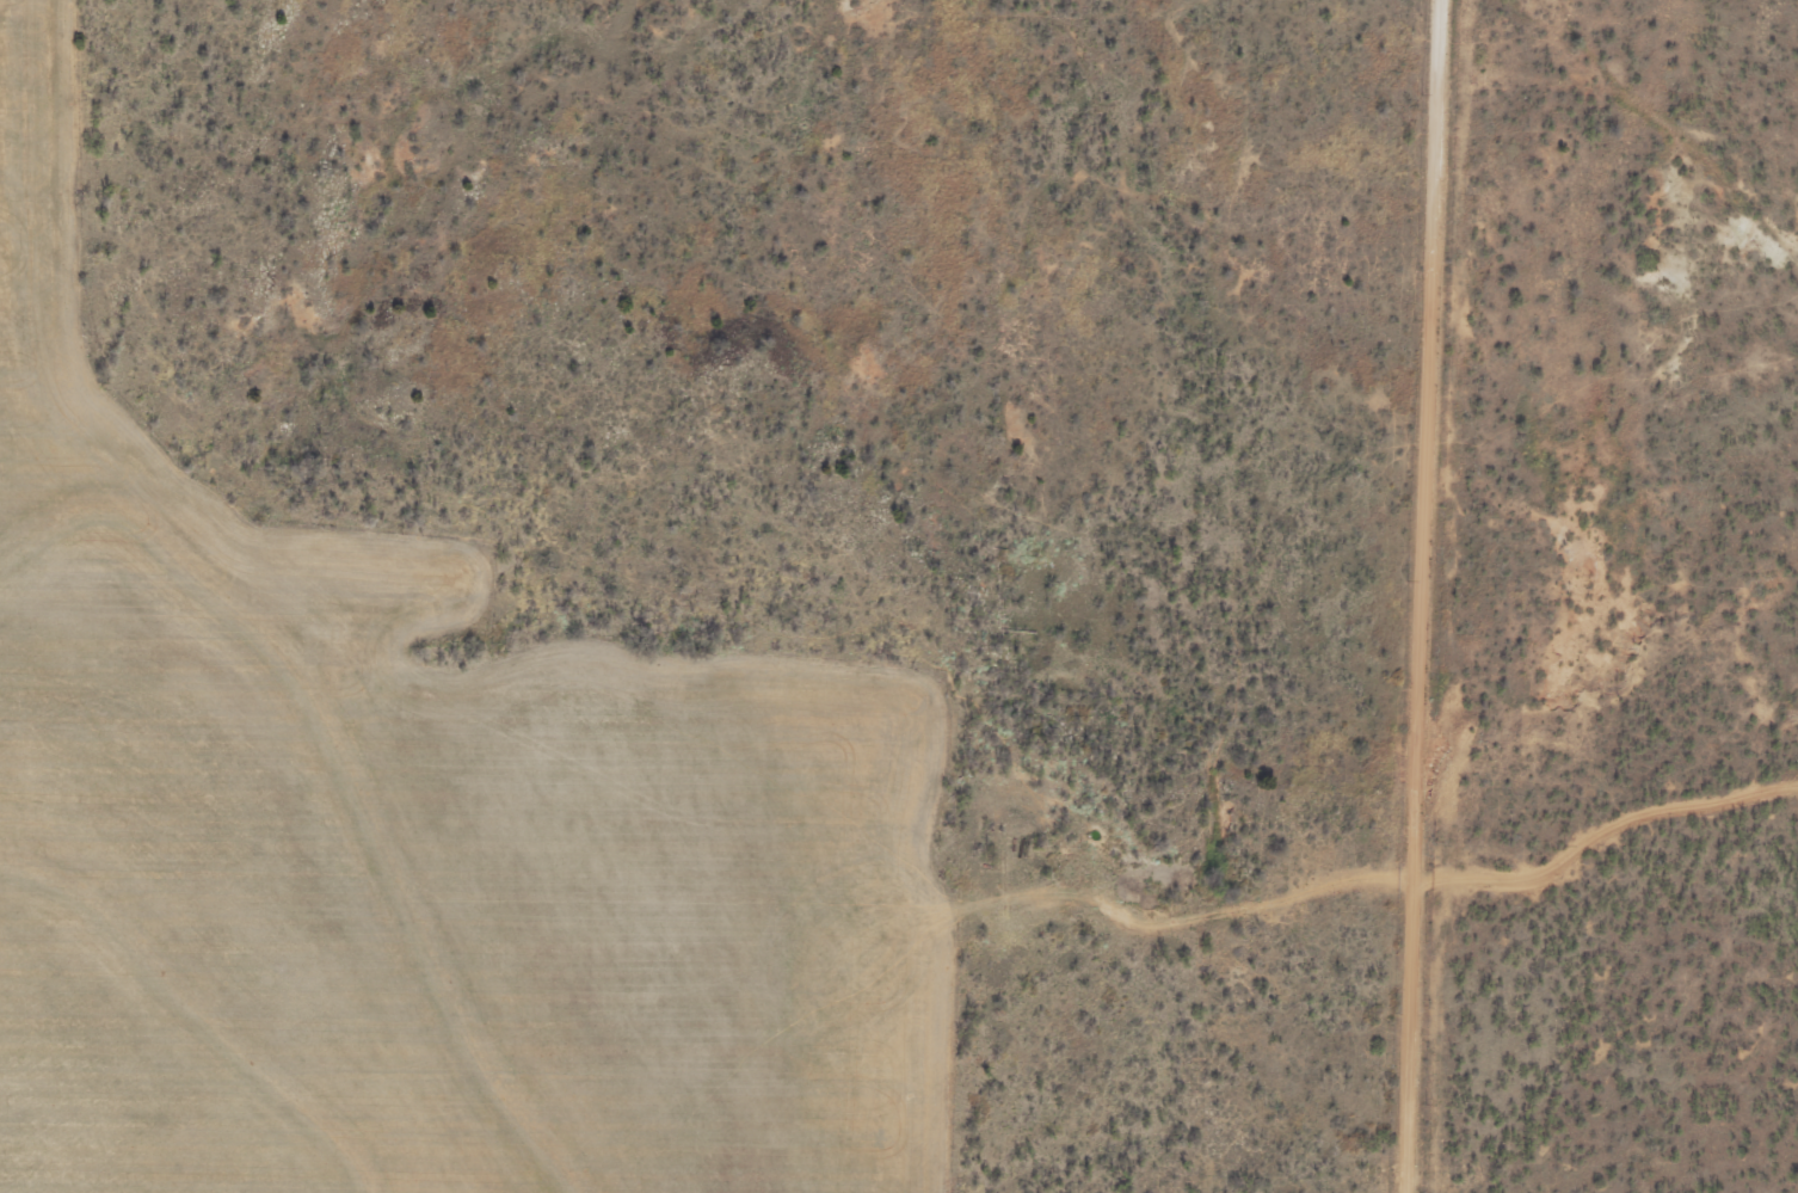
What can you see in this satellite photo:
road: (1423, 596)
road: (1602, 830)

